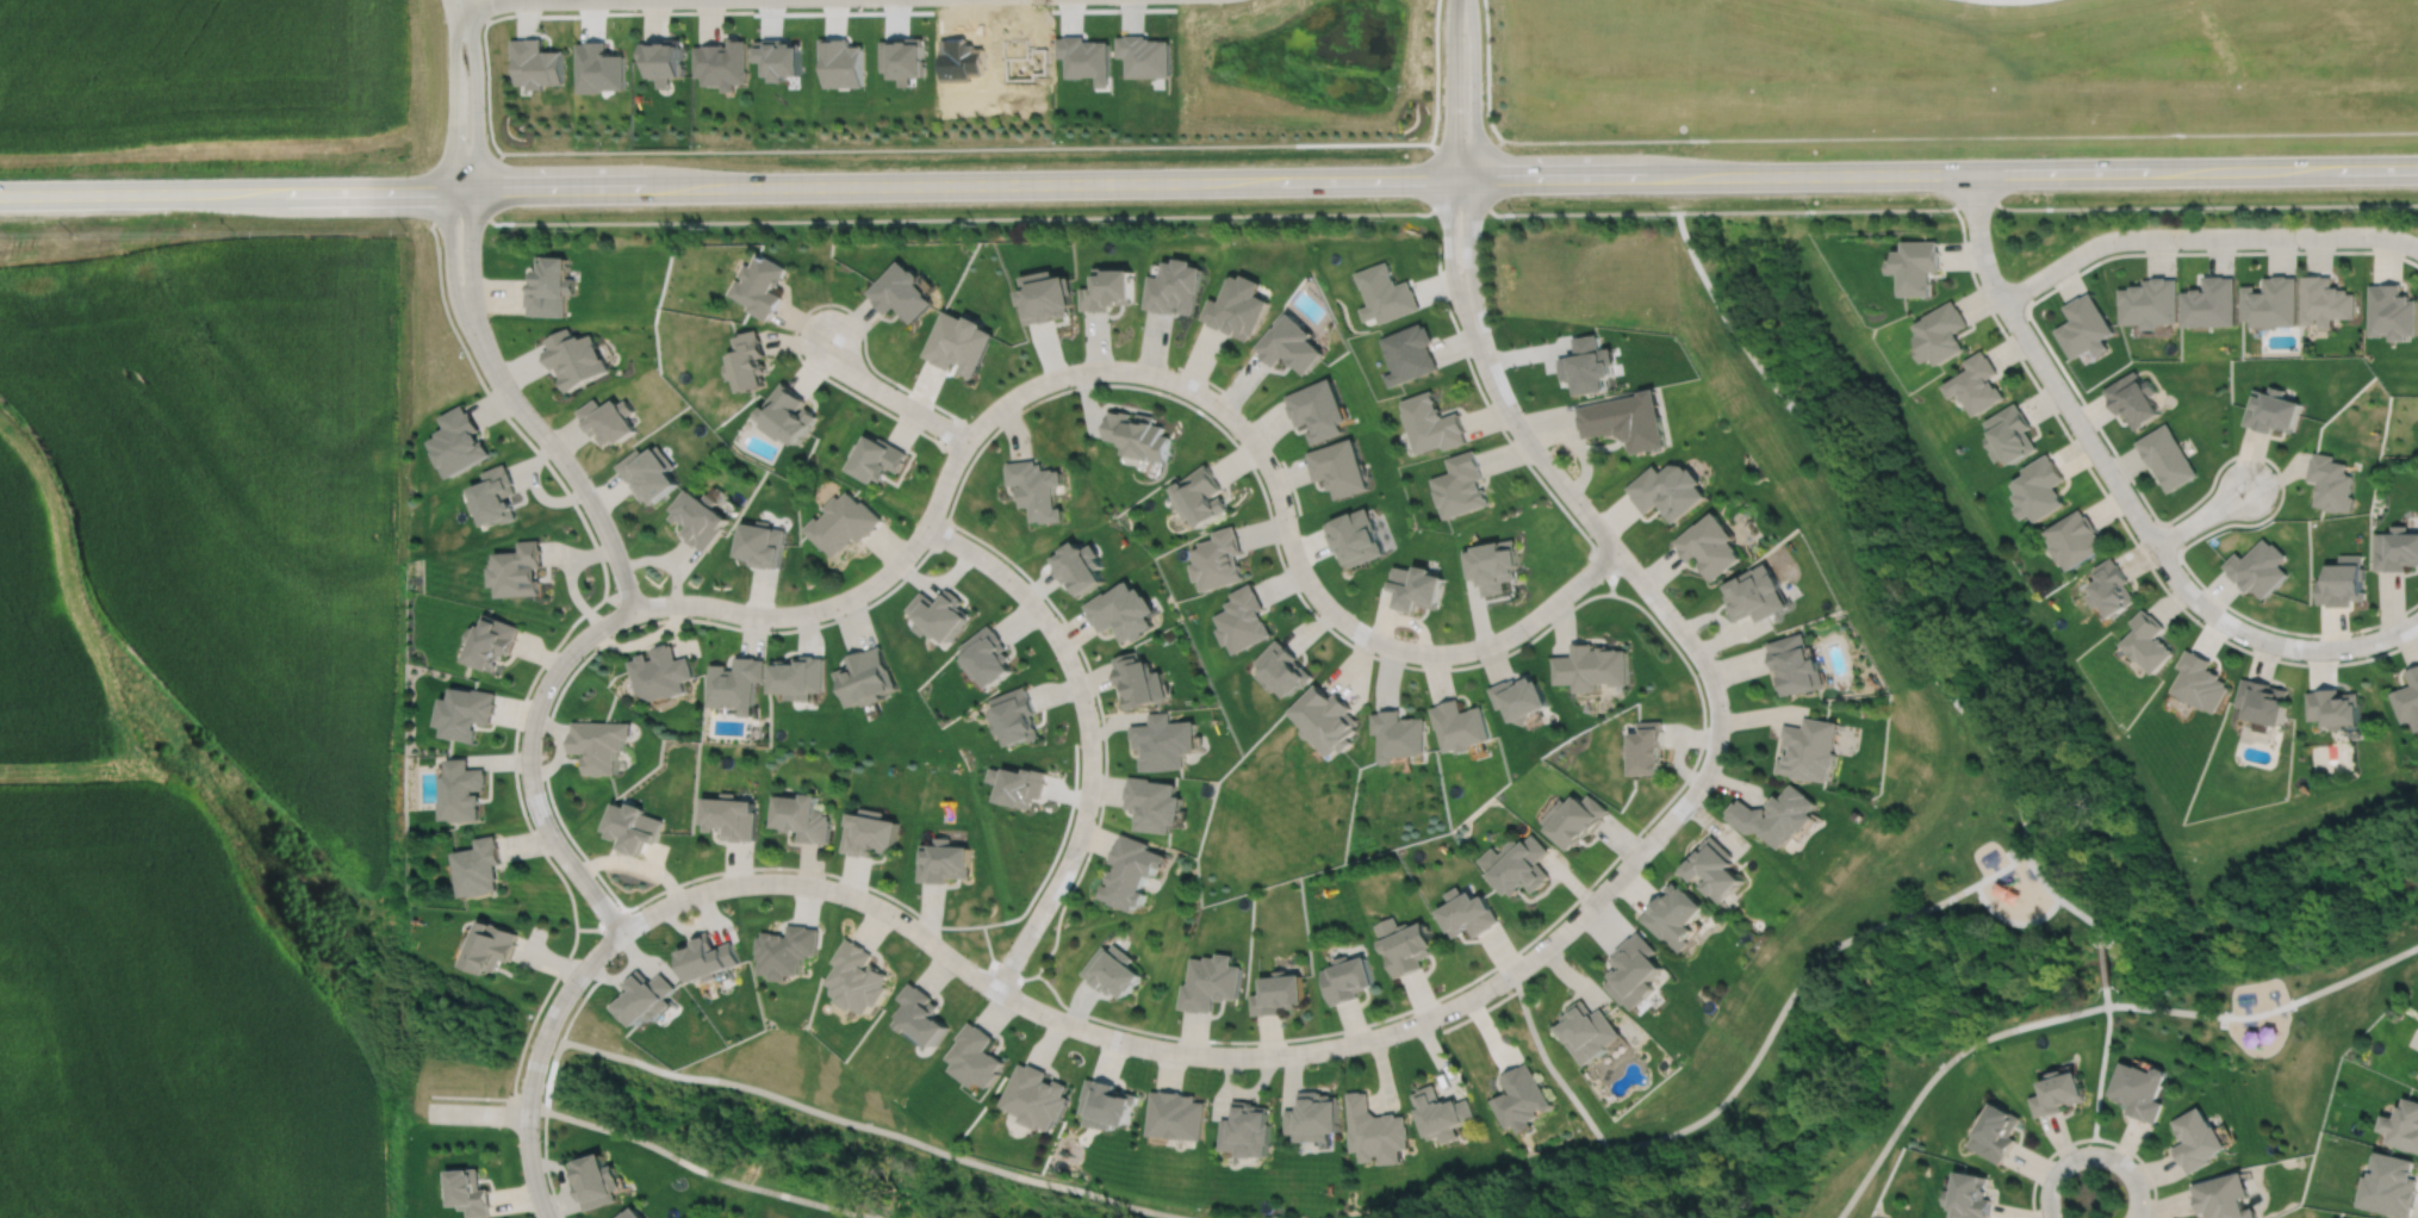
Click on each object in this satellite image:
road: (479, 8)
road: (453, 10)
building: (1145, 55)
building: (903, 56)
building: (781, 57)
building: (1084, 57)
building: (665, 58)
building: (537, 62)
building: (723, 62)
building: (841, 62)
building: (598, 68)
road: (1487, 70)
crop: (198, 72)
road: (1473, 88)
road: (453, 104)
street lamp: (484, 110)
road: (1260, 144)
road: (1450, 166)
road: (472, 174)
road: (1945, 175)
road: (735, 187)
road: (996, 217)
road: (2202, 236)
street lamp: (1482, 238)
street lamp: (1968, 238)
street lamp: (2078, 240)
street lamp: (483, 247)
street lamp: (2299, 248)
street lamp: (2177, 249)
road: (1471, 251)
building: (1915, 267)
road: (450, 274)
building: (760, 286)
building: (552, 287)
building: (1176, 287)
building: (1109, 291)
building: (900, 292)
building: (1386, 294)
building: (1046, 298)
building: (2326, 302)
building: (2273, 303)
building: (2149, 304)
building: (2211, 304)
street lamp: (831, 306)
street lamp: (1449, 306)
building: (1237, 307)
building: (2393, 312)
building: (2086, 328)
road: (794, 329)
street lamp: (2008, 333)
building: (1940, 334)
building: (958, 343)
street lamp: (466, 344)
building: (1291, 346)
building: (1410, 354)
building: (573, 359)
street lamp: (1080, 359)
building: (747, 362)
building: (1590, 366)
street lamp: (1176, 369)
road: (1157, 375)
building: (1977, 385)
street lamp: (897, 387)
road: (890, 397)
building: (2133, 399)
street lamp: (977, 411)
building: (1319, 411)
building: (2271, 411)
street lamp: (1524, 412)
street lamp: (541, 415)
building: (789, 416)
street lamp: (1249, 418)
building: (608, 422)
building: (1628, 422)
building: (1431, 424)
road: (1500, 429)
street lamp: (2071, 434)
building: (1139, 436)
building: (2012, 436)
building: (461, 443)
road: (1533, 446)
road: (2097, 453)
building: (2165, 458)
building: (878, 460)
building: (1341, 470)
street lamp: (2274, 471)
road: (572, 473)
building: (648, 474)
building: (2331, 484)
building: (1461, 486)
road: (2137, 489)
building: (2040, 490)
building: (1037, 491)
building: (1670, 491)
building: (498, 498)
building: (1201, 498)
street lamp: (580, 509)
street lamp: (1297, 514)
road: (2201, 517)
building: (698, 522)
road: (2121, 522)
building: (843, 524)
street lamp: (1580, 524)
street lamp: (2136, 537)
building: (1356, 539)
building: (2076, 541)
building: (762, 546)
building: (1711, 547)
building: (2395, 551)
street lamp: (918, 558)
building: (1218, 561)
street lamp: (1012, 567)
building: (1494, 567)
building: (1080, 570)
building: (2258, 570)
building: (521, 572)
building: (2111, 585)
building: (2341, 586)
building: (1418, 590)
street lamp: (696, 592)
building: (1758, 596)
building: (938, 611)
building: (1123, 614)
street lamp: (1683, 614)
street lamp: (819, 621)
building: (1243, 622)
street lamp: (2203, 622)
road: (742, 628)
street lamp: (1528, 638)
building: (2147, 639)
road: (2369, 641)
building: (495, 644)
street lamp: (1373, 652)
building: (987, 653)
street lamp: (2300, 659)
street lamp: (577, 661)
building: (1592, 665)
building: (1279, 666)
building: (1798, 667)
street lamp: (1084, 670)
building: (661, 671)
building: (798, 675)
building: (865, 675)
building: (1138, 678)
building: (735, 681)
building: (2200, 681)
building: (1521, 696)
building: (2407, 696)
building: (2263, 698)
building: (2333, 704)
street lamp: (1730, 708)
building: (464, 709)
building: (1015, 714)
building: (1324, 717)
building: (1460, 723)
building: (1398, 733)
road: (1088, 734)
building: (1162, 739)
building: (599, 742)
building: (1647, 746)
building: (1810, 747)
street lamp: (517, 750)
road: (1995, 753)
road: (528, 762)
building: (620, 763)
building: (1018, 783)
building: (460, 789)
street lamp: (1704, 800)
building: (1151, 802)
building: (1777, 814)
building: (728, 815)
building: (801, 816)
street lamp: (1095, 818)
building: (1574, 818)
building: (630, 825)
building: (868, 831)
street lamp: (564, 835)
road: (1627, 844)
road: (1056, 851)
building: (943, 859)
building: (1521, 864)
building: (477, 865)
road: (771, 866)
building: (1715, 866)
building: (1129, 870)
street lamp: (825, 875)
street lamp: (690, 882)
street lamp: (1614, 897)
road: (2058, 897)
building: (1466, 912)
building: (1676, 914)
road: (2012, 921)
street lamp: (1040, 936)
building: (487, 946)
building: (1406, 947)
building: (785, 950)
street lamp: (925, 955)
building: (705, 957)
road: (2101, 967)
building: (1112, 970)
building: (1634, 970)
building: (857, 977)
building: (1345, 978)
building: (1207, 981)
street lamp: (582, 992)
building: (1276, 993)
street lamp: (1497, 995)
building: (642, 998)
road: (576, 1008)
road: (2089, 1009)
building: (921, 1014)
street lamp: (1043, 1026)
building: (1586, 1031)
street lamp: (1400, 1042)
road: (521, 1049)
road: (1316, 1049)
building: (976, 1056)
road: (535, 1061)
street lamp: (1152, 1061)
road: (2102, 1063)
street lamp: (1281, 1067)
road: (670, 1073)
building: (2137, 1090)
building: (2059, 1093)
building: (1037, 1098)
building: (1522, 1099)
road: (529, 1104)
building: (1108, 1105)
road: (477, 1113)
building: (1441, 1114)
building: (1177, 1116)
building: (1313, 1117)
street lamp: (405, 1123)
building: (2403, 1126)
building: (1245, 1130)
building: (1376, 1131)
building: (1996, 1133)
street lamp: (540, 1136)
road: (2093, 1137)
building: (2194, 1141)
road: (1579, 1151)
road: (2093, 1156)
street lamp: (2132, 1157)
road: (545, 1164)
building: (593, 1182)
building: (2388, 1186)
building: (466, 1193)
building: (1969, 1197)
building: (2220, 1198)
building: (628, 1214)

